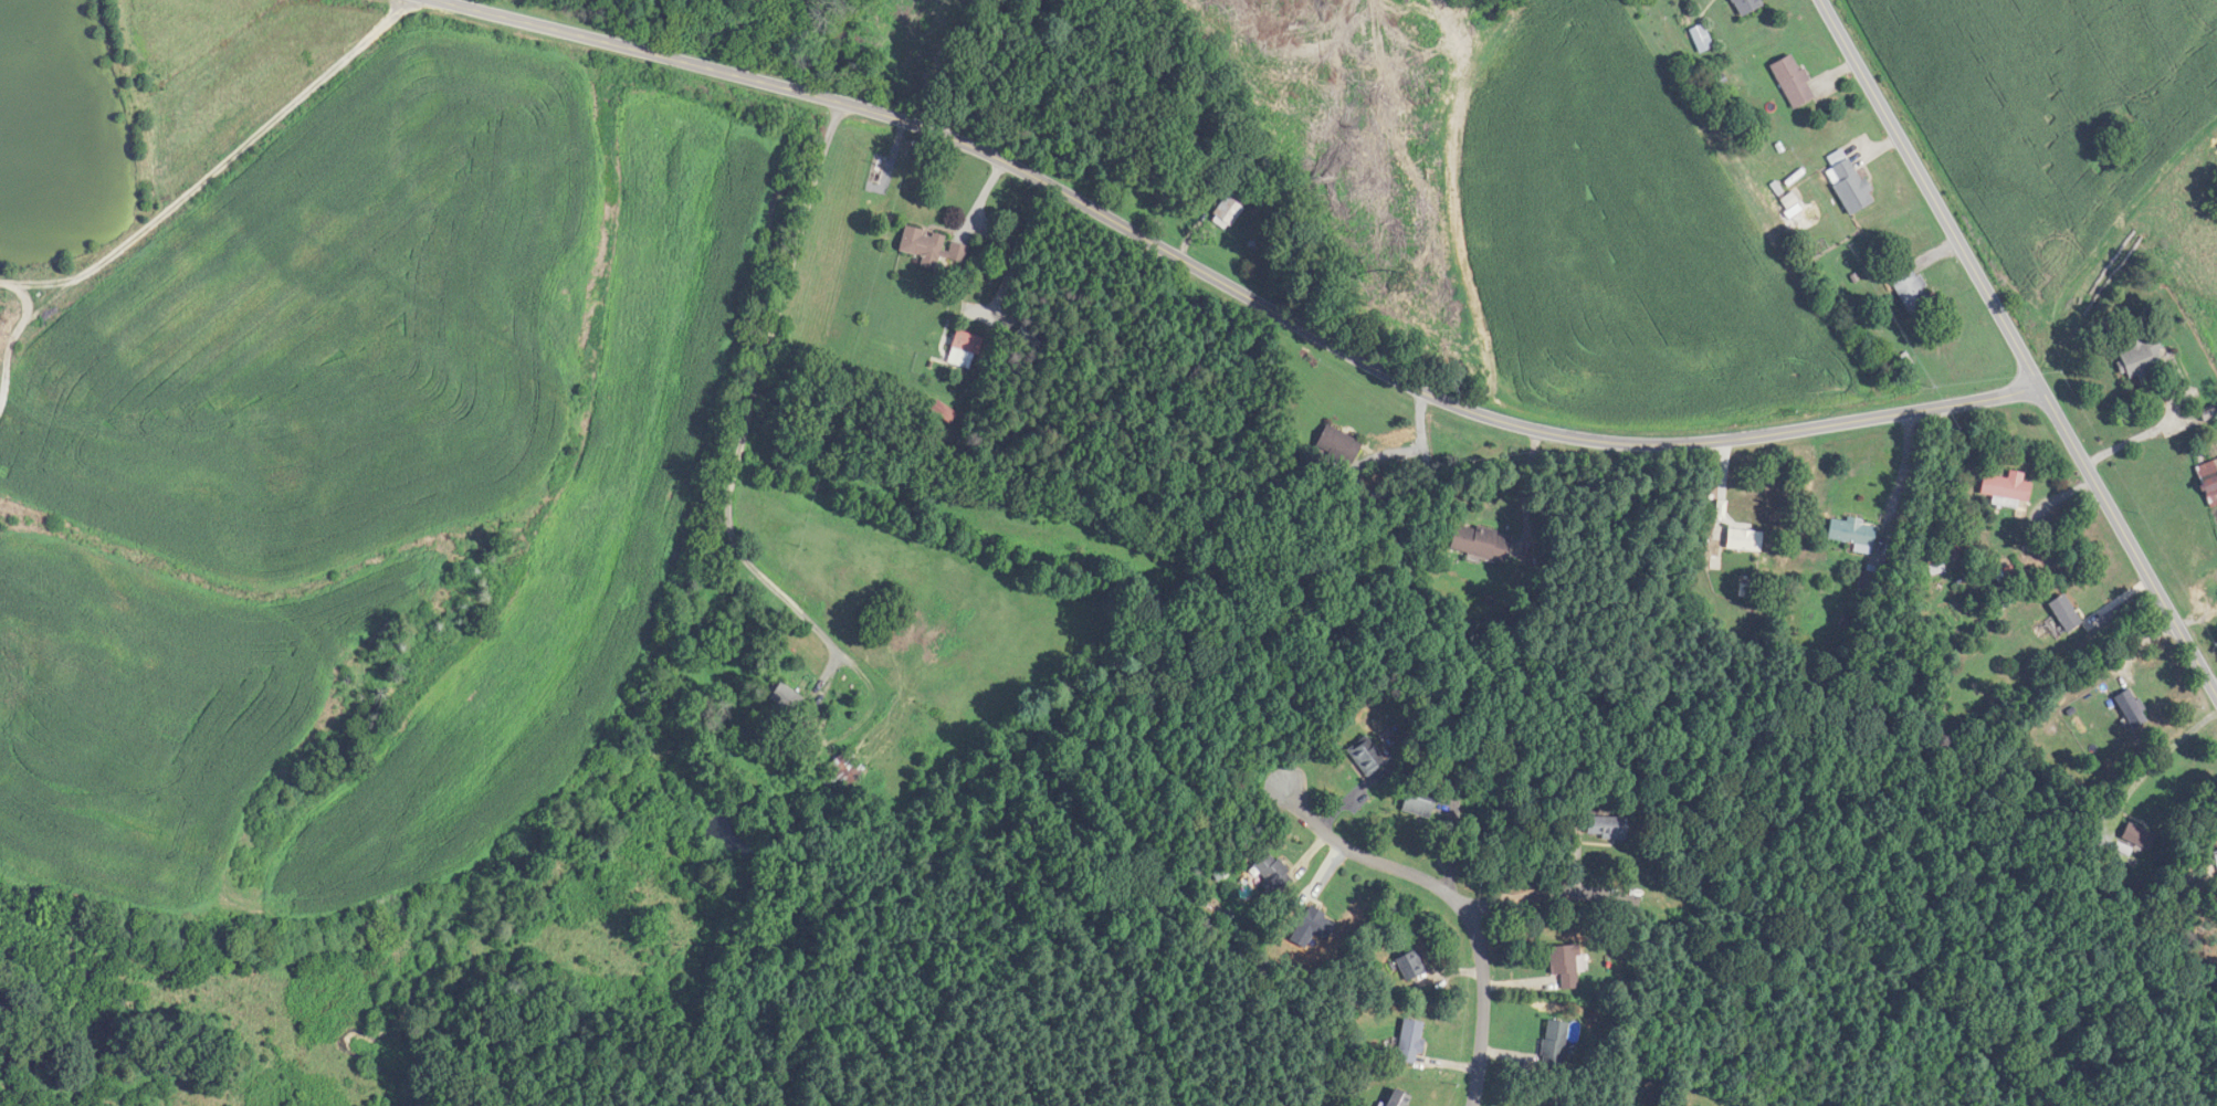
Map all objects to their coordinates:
road: (437, 0)
building: (1743, 6)
building: (1700, 39)
building: (1790, 82)
road: (219, 168)
building: (1845, 182)
road: (983, 197)
building: (1228, 214)
building: (933, 246)
road: (1227, 286)
building: (1908, 289)
building: (966, 349)
road: (2017, 349)
building: (2140, 359)
road: (749, 413)
building: (2206, 414)
road: (2129, 441)
building: (1341, 446)
road: (1419, 449)
road: (1889, 466)
building: (2207, 482)
road: (1524, 485)
building: (2005, 488)
building: (1852, 533)
building: (1744, 540)
building: (1477, 543)
building: (2061, 612)
road: (2216, 694)
building: (788, 701)
building: (2129, 708)
building: (1368, 757)
road: (2151, 766)
building: (847, 770)
building: (1421, 800)
building: (1608, 826)
building: (2135, 836)
building: (1273, 873)
road: (1566, 894)
road: (1454, 900)
building: (1411, 965)
building: (1566, 967)
building: (1412, 1037)
building: (1558, 1040)
building: (1401, 1098)

